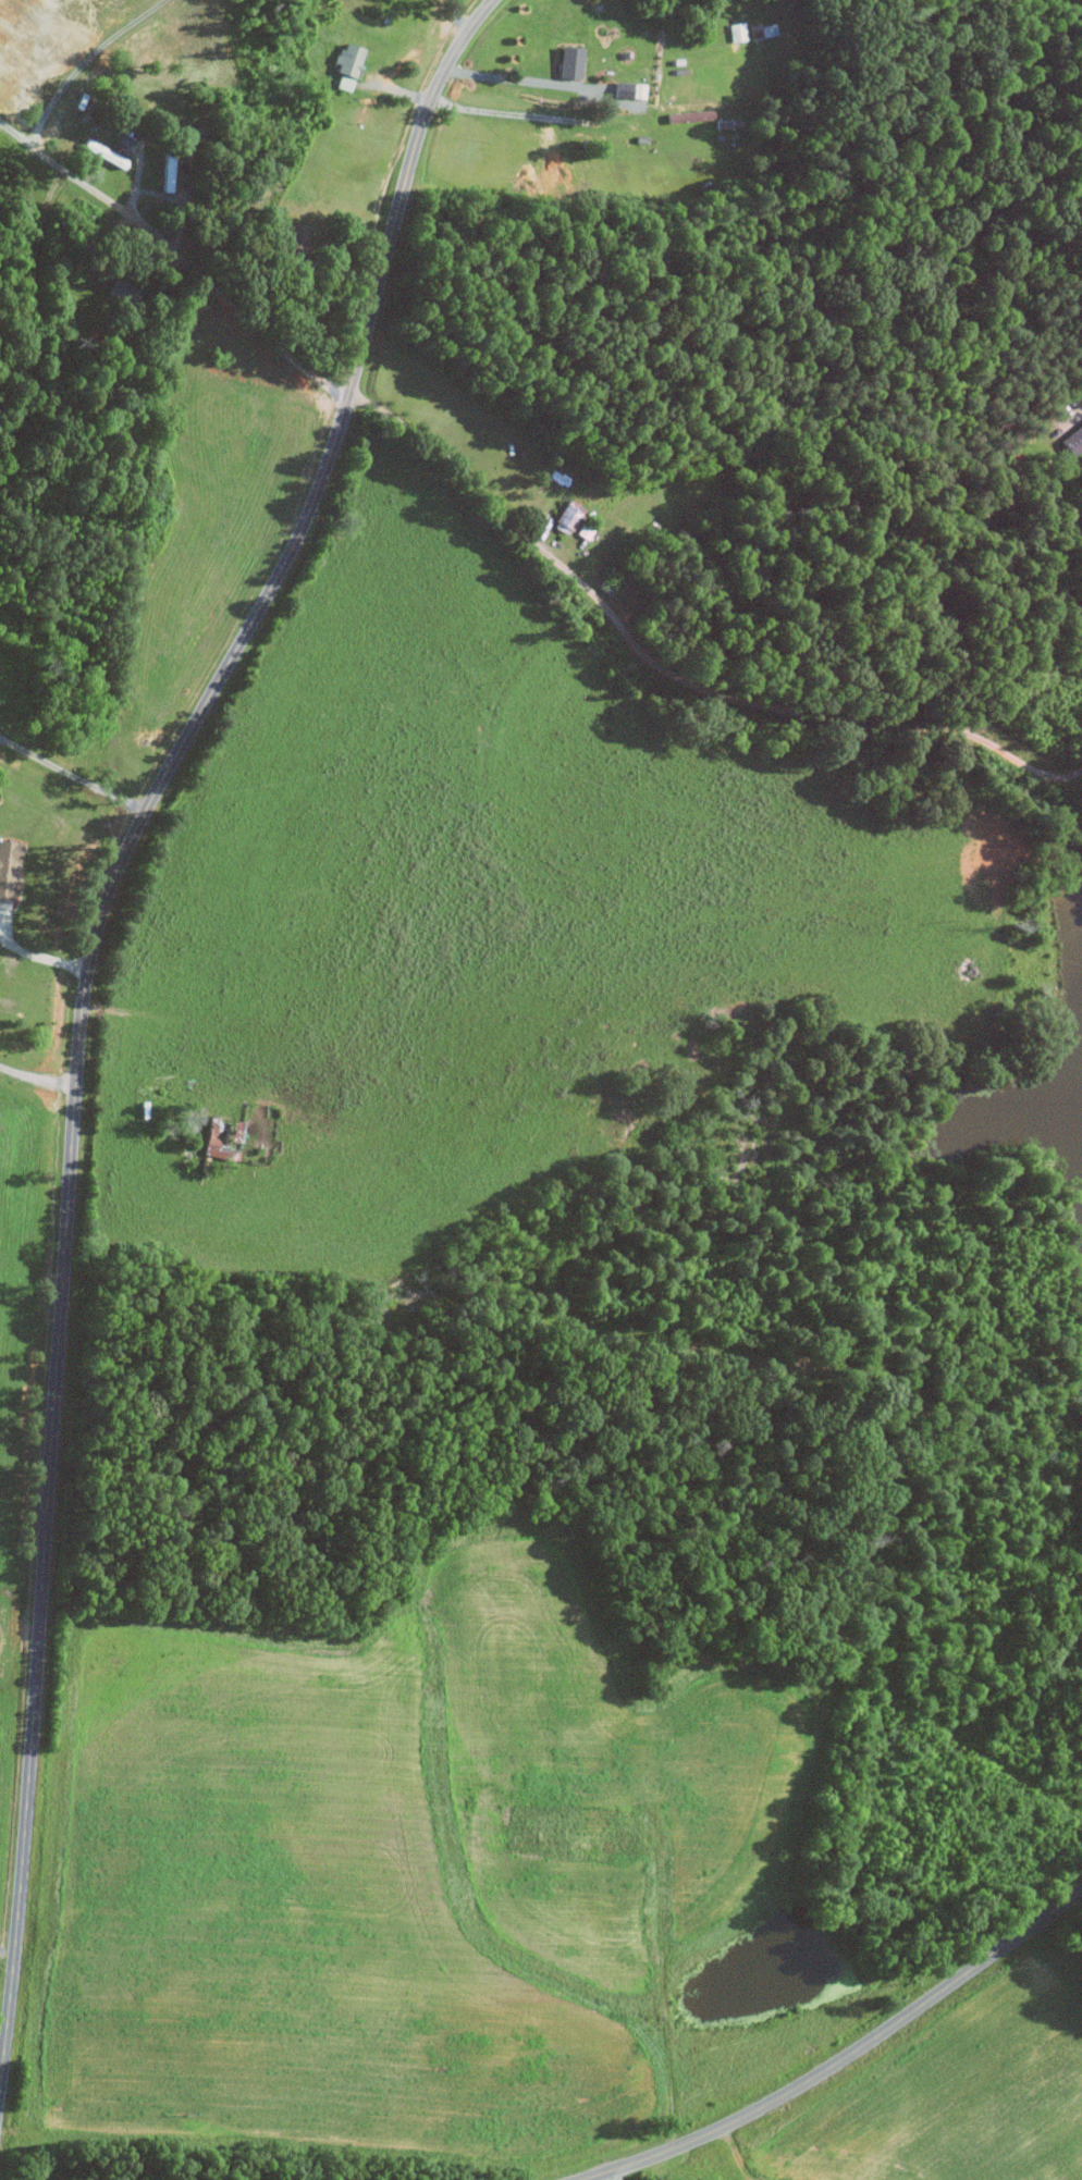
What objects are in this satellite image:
road: (456, 13)
building: (762, 29)
building: (736, 30)
building: (346, 59)
road: (83, 61)
building: (567, 61)
road: (520, 77)
building: (343, 82)
road: (497, 111)
building: (687, 115)
building: (101, 153)
building: (164, 173)
building: (292, 238)
road: (172, 259)
road: (33, 315)
building: (1072, 440)
building: (566, 517)
road: (668, 670)
road: (73, 774)
building: (7, 867)
road: (45, 958)
road: (88, 1007)
road: (37, 1077)
building: (232, 1130)
building: (210, 1138)
road: (841, 2058)
road: (599, 2177)

